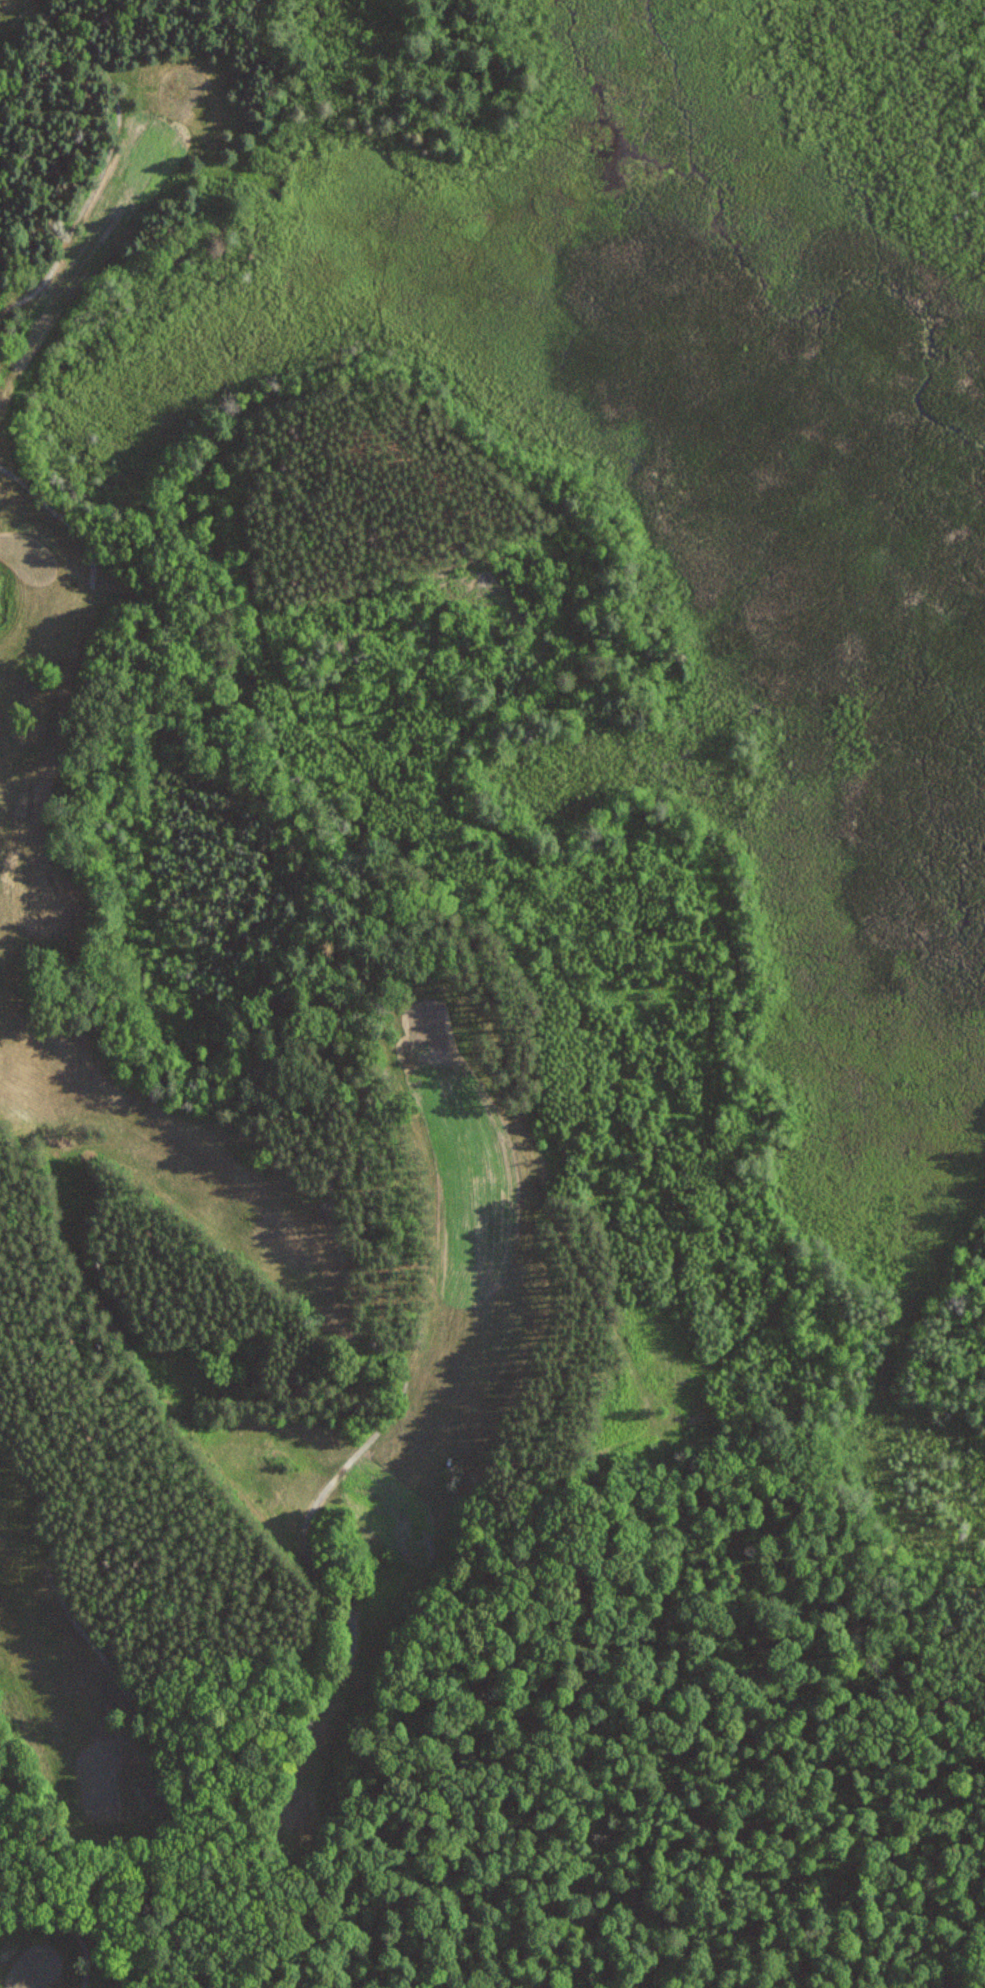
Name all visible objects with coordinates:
park: (245, 1190)

